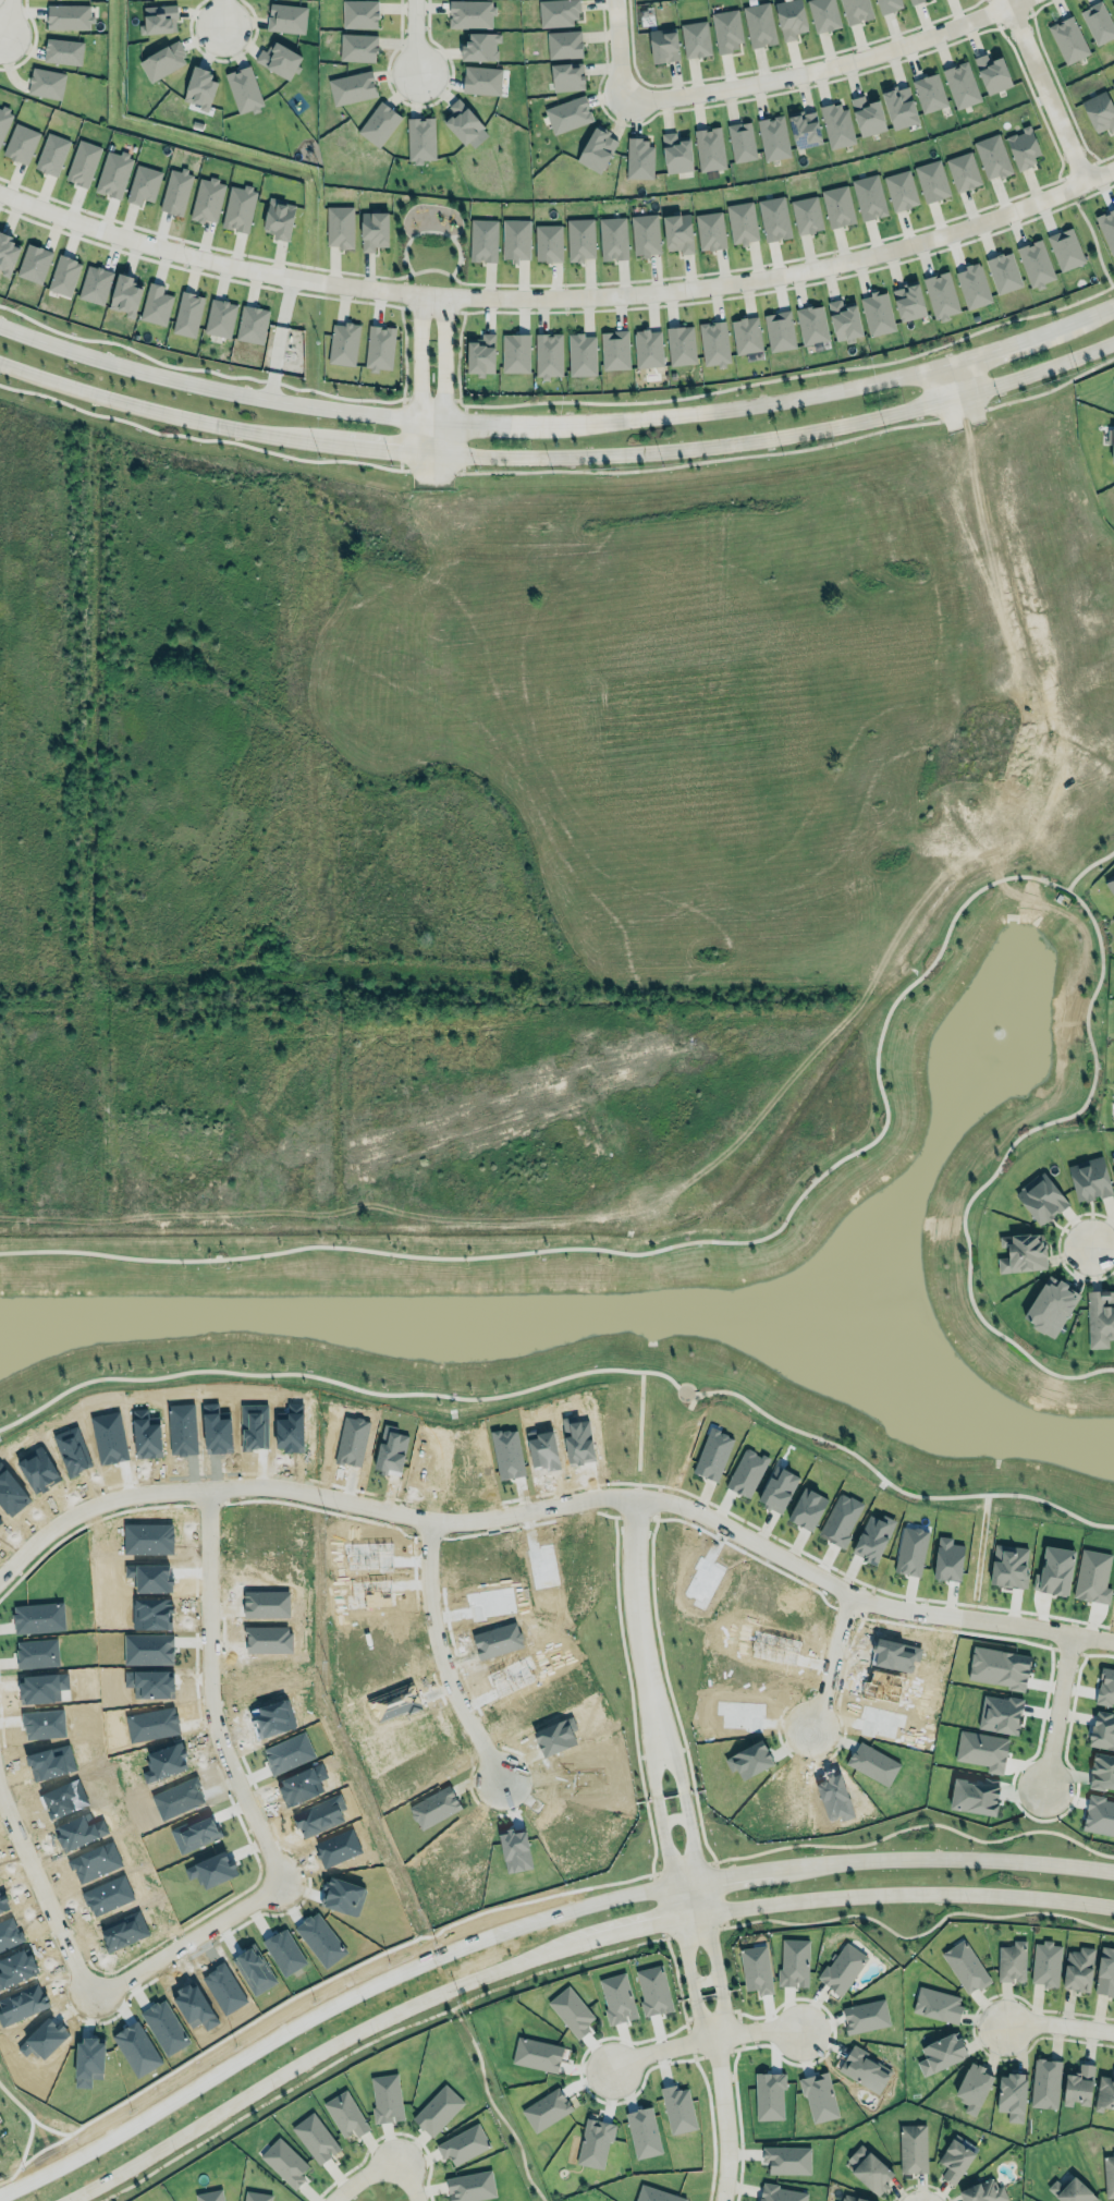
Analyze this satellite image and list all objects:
building: (911, 1)
building: (885, 4)
building: (1113, 5)
building: (856, 10)
building: (558, 11)
building: (359, 13)
building: (470, 13)
building: (823, 14)
building: (69, 16)
building: (157, 16)
road: (225, 16)
building: (789, 16)
building: (286, 17)
road: (4, 19)
building: (1097, 22)
building: (759, 24)
building: (726, 28)
building: (695, 37)
building: (1067, 38)
road: (416, 40)
building: (663, 42)
building: (564, 44)
building: (480, 46)
building: (357, 47)
road: (617, 49)
building: (62, 51)
building: (277, 58)
building: (160, 63)
road: (822, 66)
building: (992, 72)
building: (566, 74)
building: (481, 80)
building: (46, 83)
building: (197, 83)
building: (1113, 83)
building: (960, 85)
building: (351, 87)
building: (242, 89)
road: (1044, 89)
building: (929, 90)
building: (899, 106)
building: (1099, 109)
building: (567, 113)
building: (867, 115)
building: (2, 118)
building: (462, 121)
building: (379, 123)
building: (836, 124)
building: (804, 127)
building: (772, 135)
building: (420, 138)
building: (739, 141)
building: (19, 143)
building: (1024, 145)
building: (596, 147)
building: (709, 147)
building: (49, 153)
building: (676, 154)
building: (993, 154)
building: (639, 159)
building: (83, 162)
building: (963, 170)
building: (111, 173)
building: (932, 180)
building: (140, 183)
building: (901, 189)
building: (175, 191)
building: (868, 195)
building: (207, 199)
building: (837, 206)
building: (236, 207)
building: (806, 214)
building: (774, 217)
building: (278, 219)
building: (739, 222)
building: (339, 227)
building: (1106, 227)
building: (372, 228)
building: (710, 229)
building: (677, 231)
building: (645, 233)
building: (612, 236)
building: (482, 238)
building: (515, 238)
building: (579, 238)
building: (548, 241)
building: (1066, 248)
building: (7, 253)
building: (30, 262)
building: (1035, 263)
building: (1002, 272)
building: (62, 273)
building: (93, 283)
building: (972, 285)
building: (941, 294)
building: (125, 295)
road: (560, 295)
building: (908, 301)
building: (152, 303)
building: (877, 313)
building: (187, 314)
building: (220, 317)
road: (1077, 318)
building: (844, 319)
building: (249, 324)
building: (811, 325)
building: (779, 330)
building: (746, 333)
building: (343, 341)
building: (714, 342)
building: (681, 344)
building: (379, 348)
building: (648, 348)
road: (992, 349)
building: (614, 350)
building: (515, 352)
building: (546, 353)
building: (580, 353)
building: (480, 354)
road: (418, 355)
road: (443, 357)
road: (950, 381)
road: (205, 387)
road: (737, 405)
road: (430, 419)
road: (485, 423)
road: (418, 435)
road: (443, 437)
road: (978, 437)
building: (1111, 441)
road: (957, 443)
road: (773, 450)
road: (559, 454)
road: (982, 504)
road: (418, 518)
road: (443, 519)
road: (490, 584)
road: (1015, 613)
road: (35, 662)
road: (523, 680)
road: (101, 726)
road: (931, 733)
road: (632, 774)
road: (1107, 781)
road: (1087, 862)
building: (1110, 883)
road: (831, 887)
building: (1113, 897)
road: (204, 943)
road: (627, 951)
road: (423, 956)
fountain: (1000, 1030)
road: (879, 1078)
road: (430, 1130)
building: (1112, 1163)
building: (1089, 1179)
building: (1040, 1197)
road: (1056, 1244)
road: (1100, 1245)
building: (1021, 1253)
building: (1050, 1305)
building: (1100, 1316)
road: (570, 1373)
road: (671, 1503)
road: (91, 1507)
building: (910, 1551)
building: (947, 1559)
road: (636, 1628)
road: (440, 1656)
road: (831, 1664)
road: (1056, 1711)
building: (872, 1763)
building: (1100, 1772)
road: (687, 1813)
road: (659, 1819)
road: (918, 1825)
road: (956, 1858)
road: (734, 1872)
road: (266, 1889)
road: (690, 1931)
road: (916, 1933)
road: (709, 1935)
road: (683, 1942)
road: (561, 1946)
building: (1011, 1961)
building: (793, 1962)
building: (1045, 1963)
building: (964, 1965)
building: (842, 1968)
building: (756, 1969)
building: (1078, 1969)
building: (1104, 1971)
road: (675, 1981)
building: (937, 2004)
road: (322, 2010)
building: (571, 2011)
road: (709, 2012)
road: (719, 2015)
road: (736, 2015)
road: (702, 2018)
road: (1057, 2020)
road: (970, 2027)
road: (832, 2032)
road: (739, 2033)
road: (702, 2039)
road: (688, 2042)
road: (369, 2043)
road: (715, 2053)
building: (941, 2053)
building: (536, 2054)
road: (695, 2057)
building: (864, 2069)
road: (656, 2076)
building: (1043, 2082)
building: (1078, 2086)
building: (972, 2088)
road: (575, 2092)
building: (1105, 2092)
building: (769, 2095)
building: (1012, 2095)
building: (385, 2097)
building: (819, 2097)
road: (492, 2106)
building: (437, 2109)
building: (546, 2109)
building: (345, 2114)
road: (723, 2118)
parking lot: (660, 2121)
road: (739, 2125)
road: (709, 2128)
road: (383, 2135)
building: (315, 2138)
road: (44, 2140)
building: (595, 2142)
building: (463, 2144)
building: (910, 2148)
building: (799, 2150)
building: (954, 2159)
building: (284, 2162)
road: (383, 2163)
building: (869, 2169)
building: (1109, 2175)
road: (919, 2184)
building: (470, 2186)
building: (982, 2190)
building: (1070, 2190)
building: (781, 2193)
building: (209, 2196)
building: (255, 2196)
building: (854, 2197)

